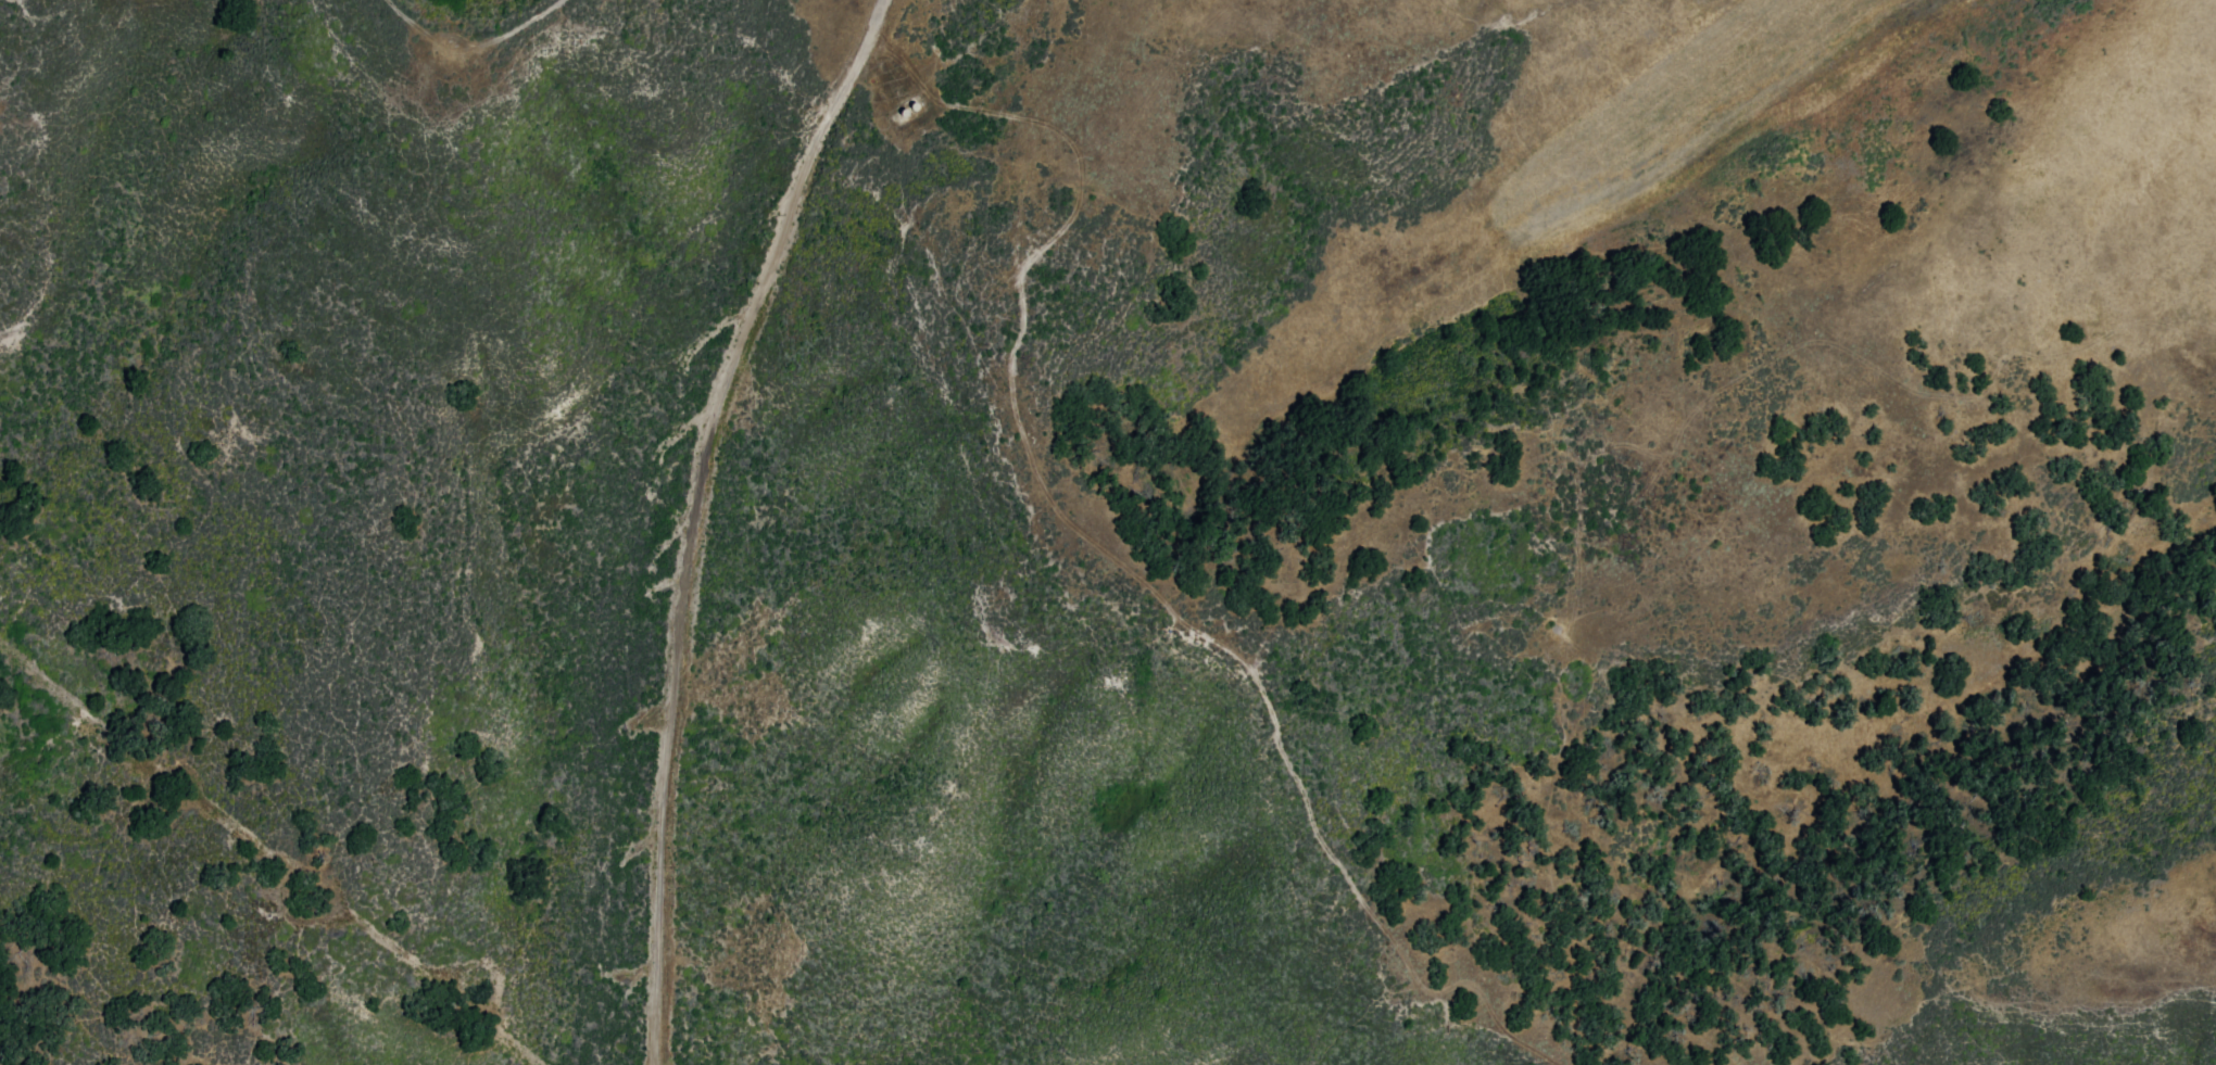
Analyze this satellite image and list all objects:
road: (474, 40)
road: (708, 518)

